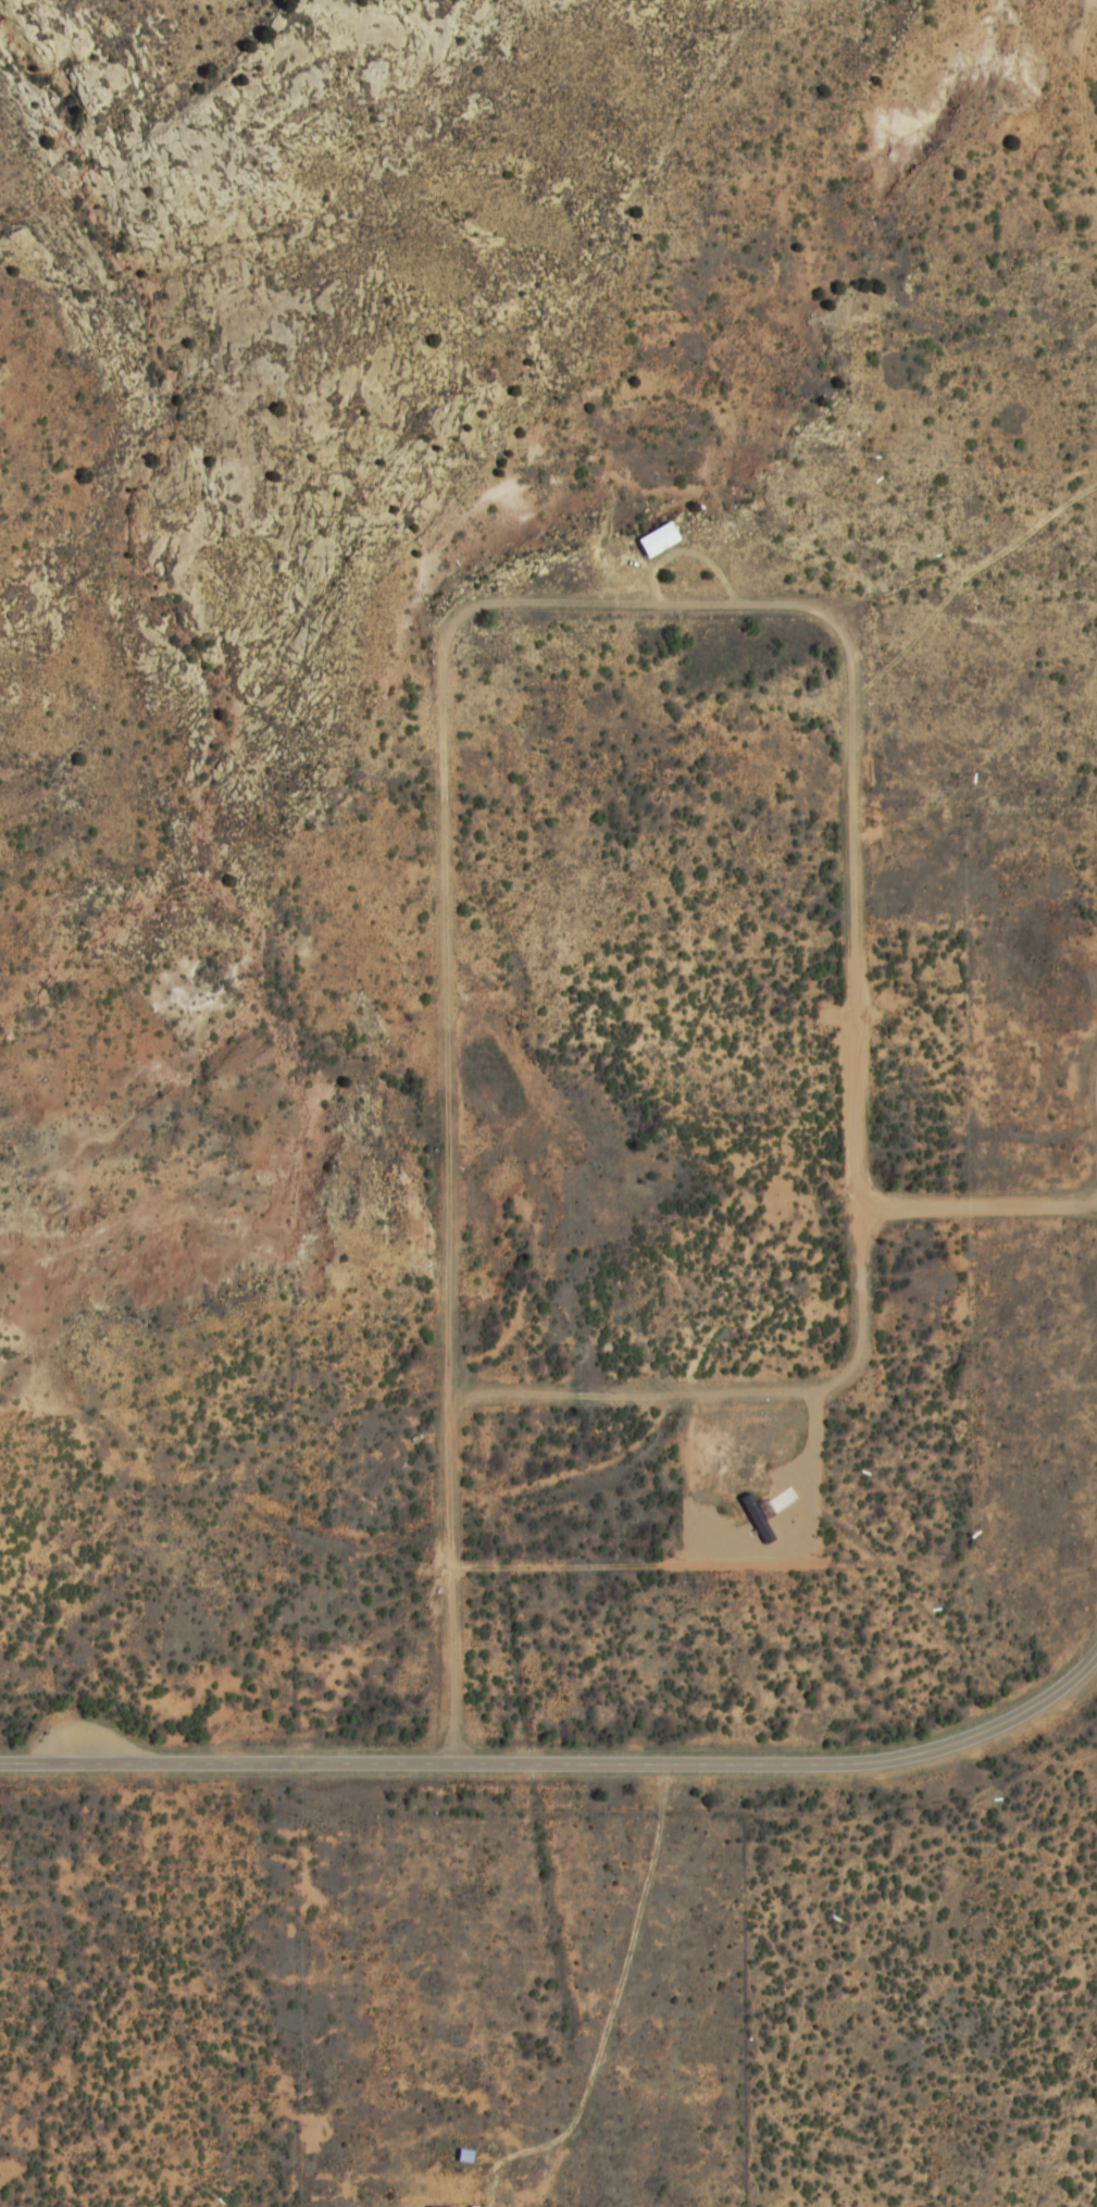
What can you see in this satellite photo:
building: (655, 540)
road: (624, 603)
road: (856, 999)
road: (446, 1204)
road: (977, 1208)
road: (645, 1394)
road: (563, 1764)
building: (463, 2157)

